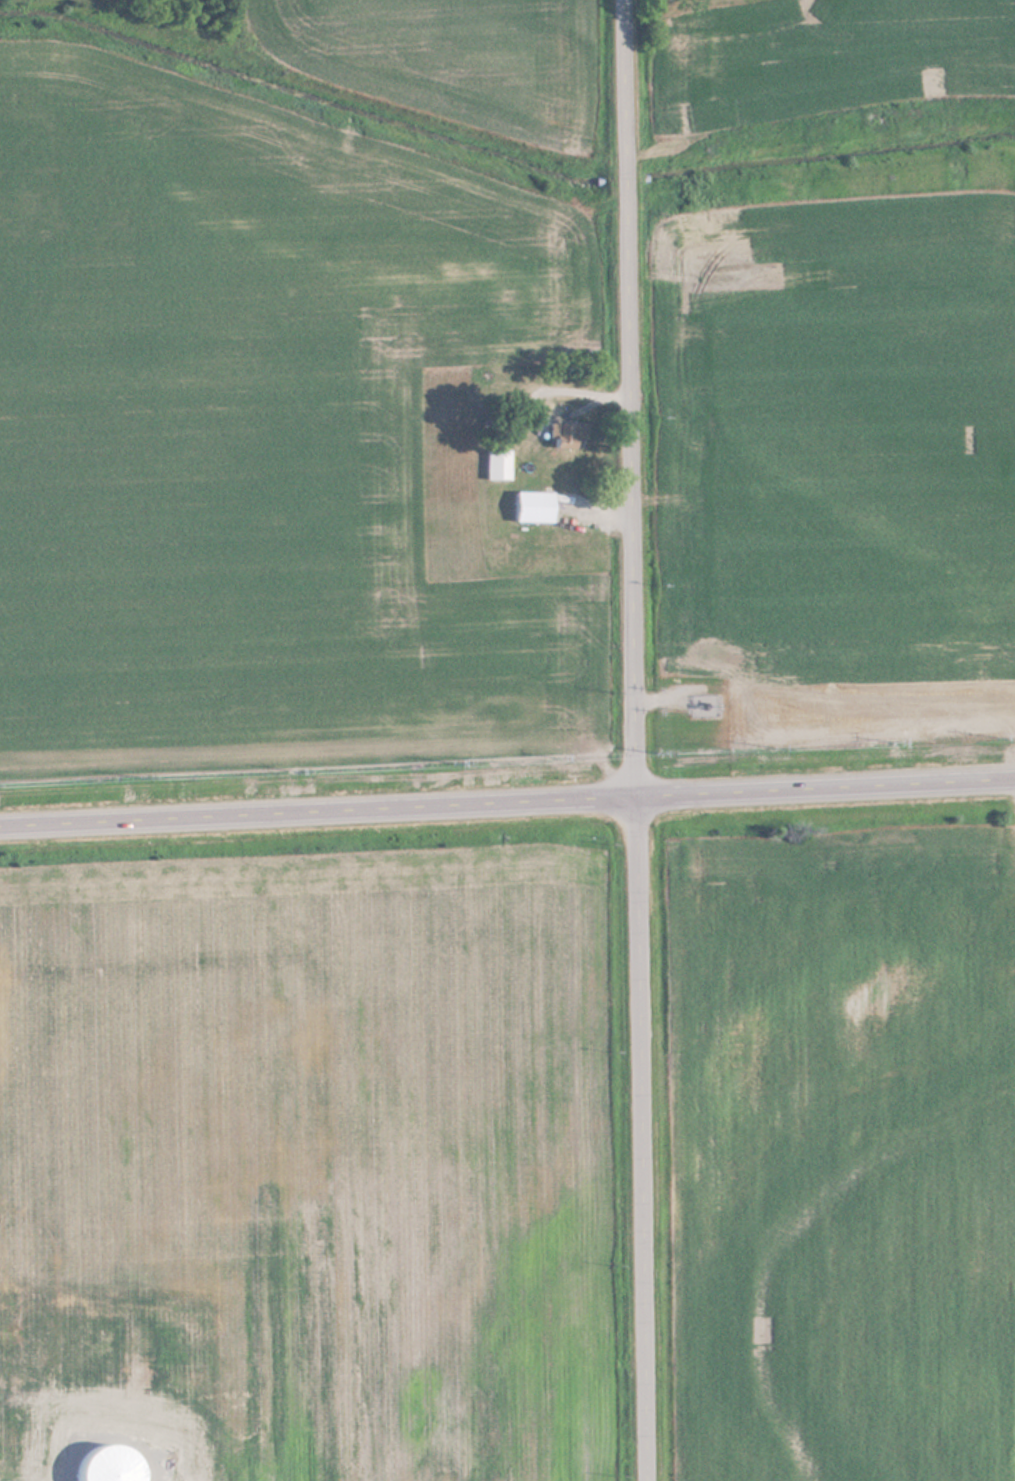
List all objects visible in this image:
road: (632, 398)
building: (566, 435)
building: (498, 465)
building: (535, 508)
road: (507, 804)
road: (640, 1139)

